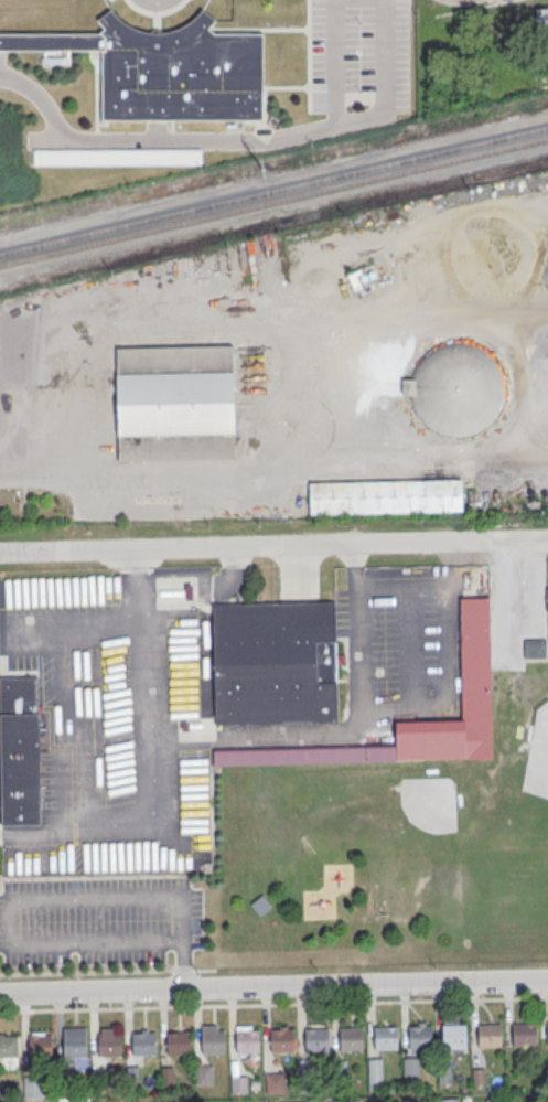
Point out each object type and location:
road: (474, 8)
road: (155, 11)
building: (541, 20)
parking lot: (359, 56)
road: (335, 62)
building: (166, 68)
road: (385, 81)
road: (155, 140)
building: (117, 158)
power tower: (265, 169)
railway: (273, 191)
railway: (273, 203)
road: (304, 333)
building: (453, 388)
building: (174, 404)
road: (35, 475)
building: (385, 495)
road: (273, 546)
road: (142, 580)
building: (547, 598)
road: (505, 601)
building: (535, 649)
building: (475, 657)
building: (275, 664)
road: (449, 672)
road: (148, 674)
road: (348, 730)
building: (19, 752)
road: (119, 832)
road: (1, 833)
park: (401, 833)
road: (68, 898)
building: (260, 905)
road: (180, 917)
road: (98, 943)
road: (182, 965)
road: (105, 971)
road: (273, 986)
road: (273, 1003)
building: (547, 1035)
building: (523, 1036)
building: (487, 1037)
building: (419, 1038)
building: (452, 1038)
building: (350, 1039)
building: (385, 1039)
building: (315, 1040)
building: (281, 1041)
building: (212, 1042)
building: (247, 1042)
building: (74, 1044)
building: (108, 1044)
building: (178, 1044)
building: (143, 1045)
building: (8, 1047)
building: (39, 1047)
building: (410, 1066)
building: (203, 1073)
building: (374, 1073)
building: (273, 1081)
building: (238, 1083)
building: (449, 1100)
building: (336, 1101)

